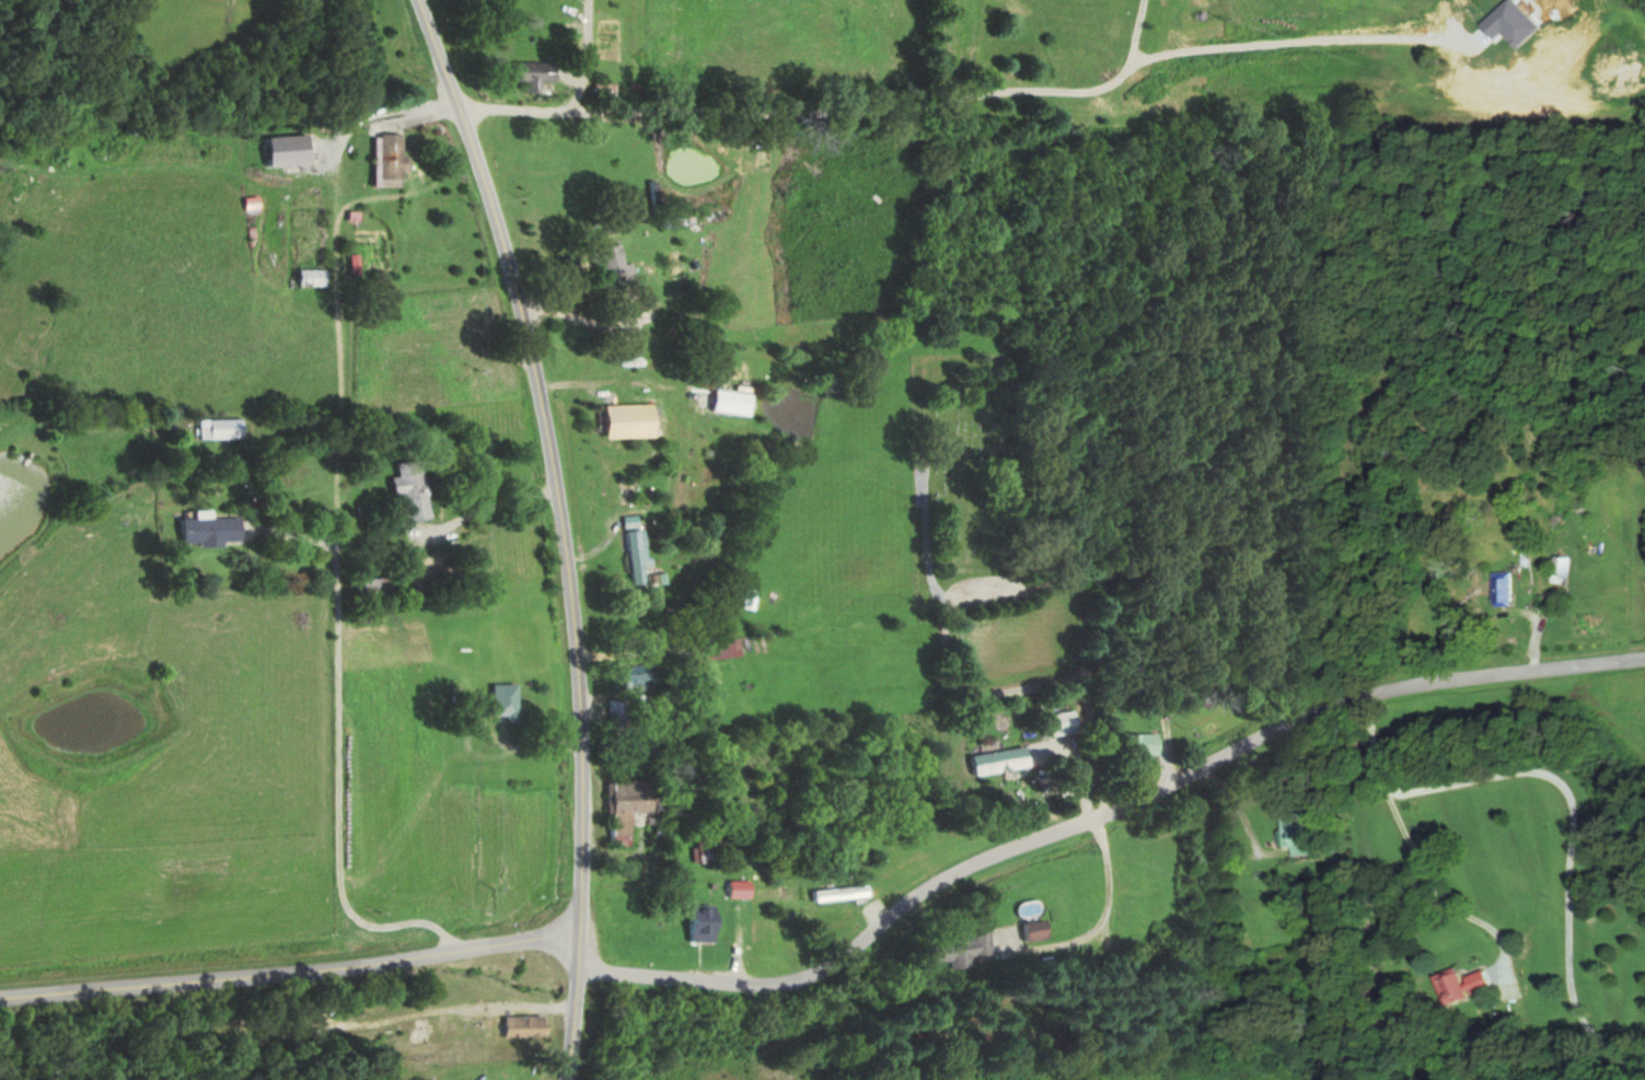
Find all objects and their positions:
building: (540, 77)
road: (835, 108)
building: (394, 160)
building: (619, 267)
building: (316, 281)
building: (737, 402)
building: (632, 418)
building: (224, 428)
park: (969, 463)
building: (416, 489)
building: (216, 530)
road: (566, 531)
building: (641, 557)
building: (1556, 569)
building: (378, 587)
building: (1497, 588)
building: (728, 648)
building: (642, 674)
building: (509, 699)
building: (622, 710)
building: (1065, 722)
building: (1145, 743)
building: (1004, 760)
road: (343, 786)
road: (1421, 789)
building: (629, 806)
road: (1103, 813)
building: (1299, 832)
building: (778, 893)
building: (833, 893)
road: (1564, 901)
road: (1439, 903)
building: (706, 922)
building: (1035, 931)
building: (961, 949)
road: (291, 966)
building: (1450, 986)
building: (523, 1026)

